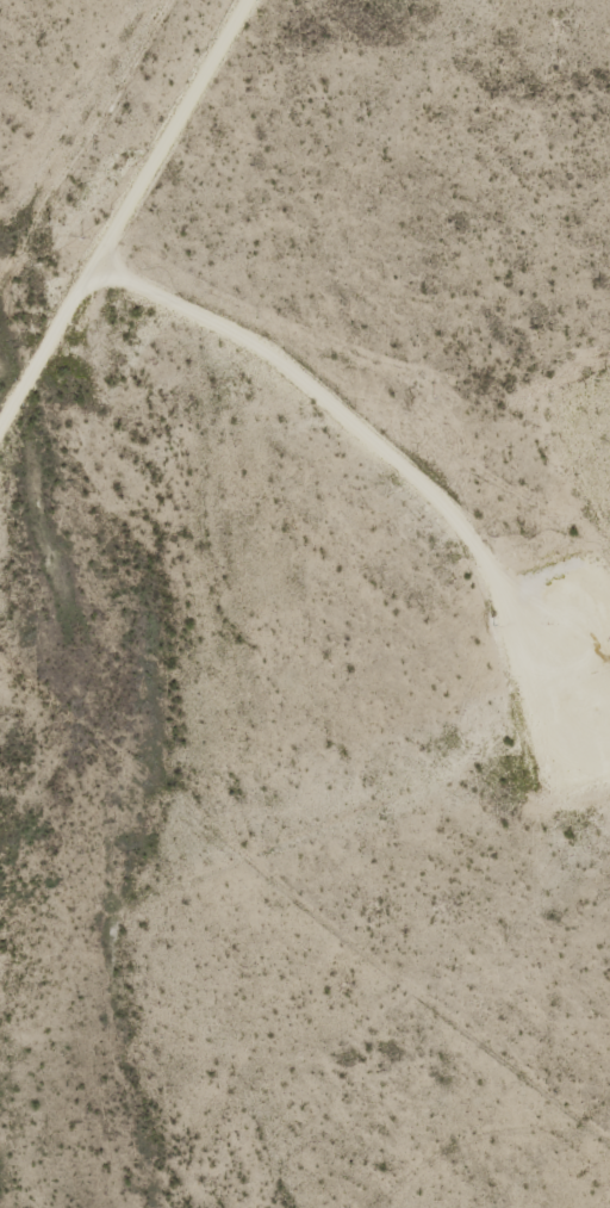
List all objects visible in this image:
road: (118, 206)

